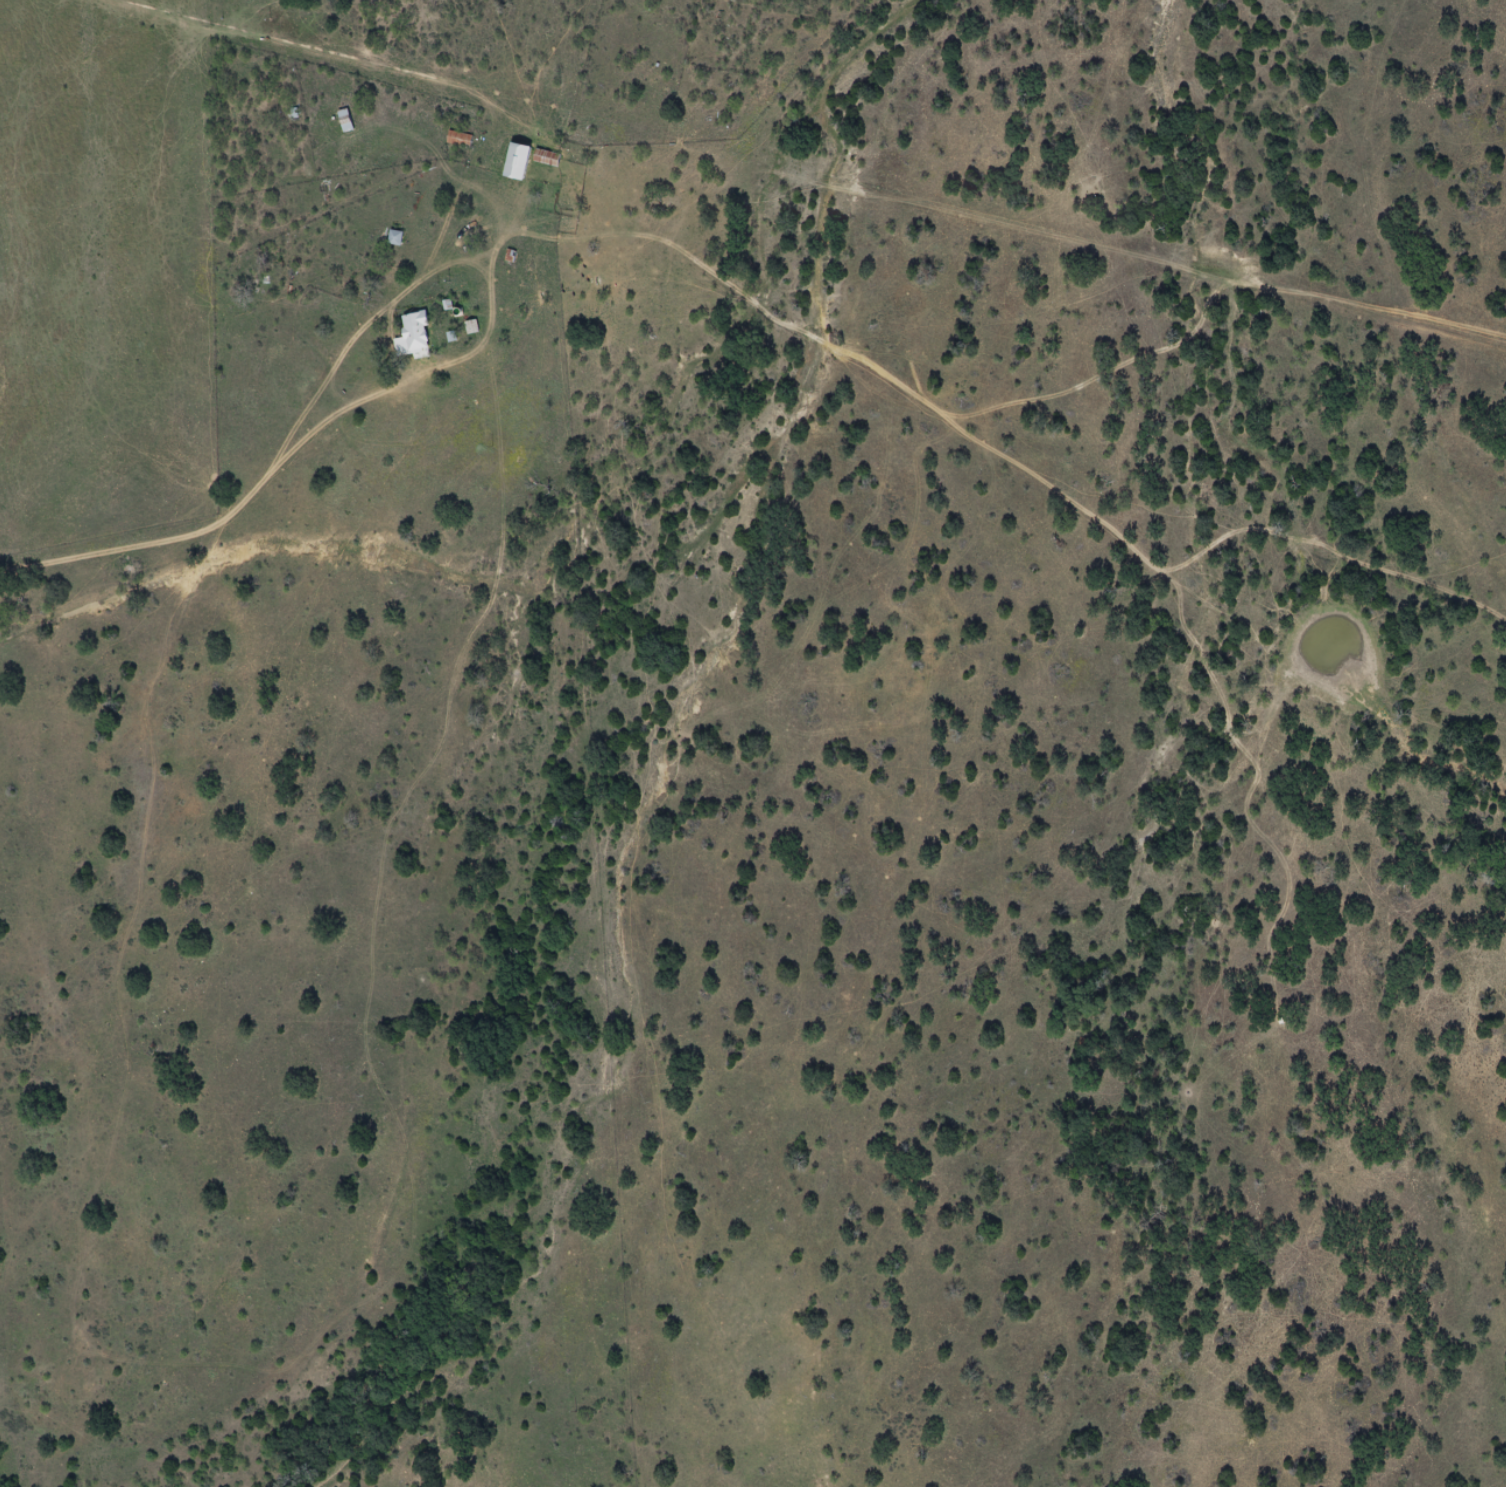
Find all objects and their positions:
building: (345, 120)
building: (459, 138)
building: (547, 157)
building: (517, 161)
building: (395, 237)
building: (413, 334)
road: (288, 517)

